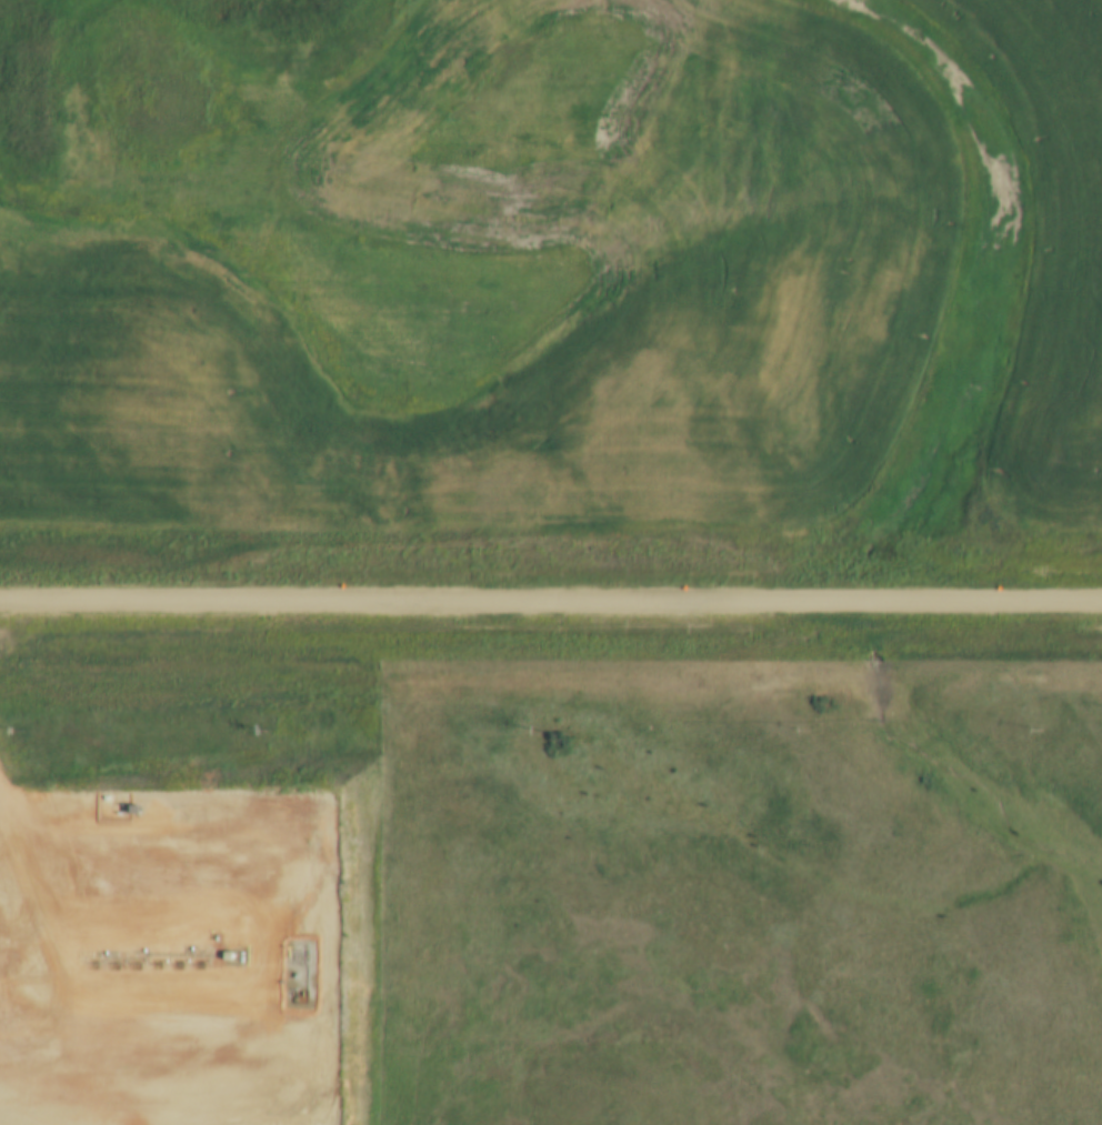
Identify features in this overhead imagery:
road: (551, 603)

